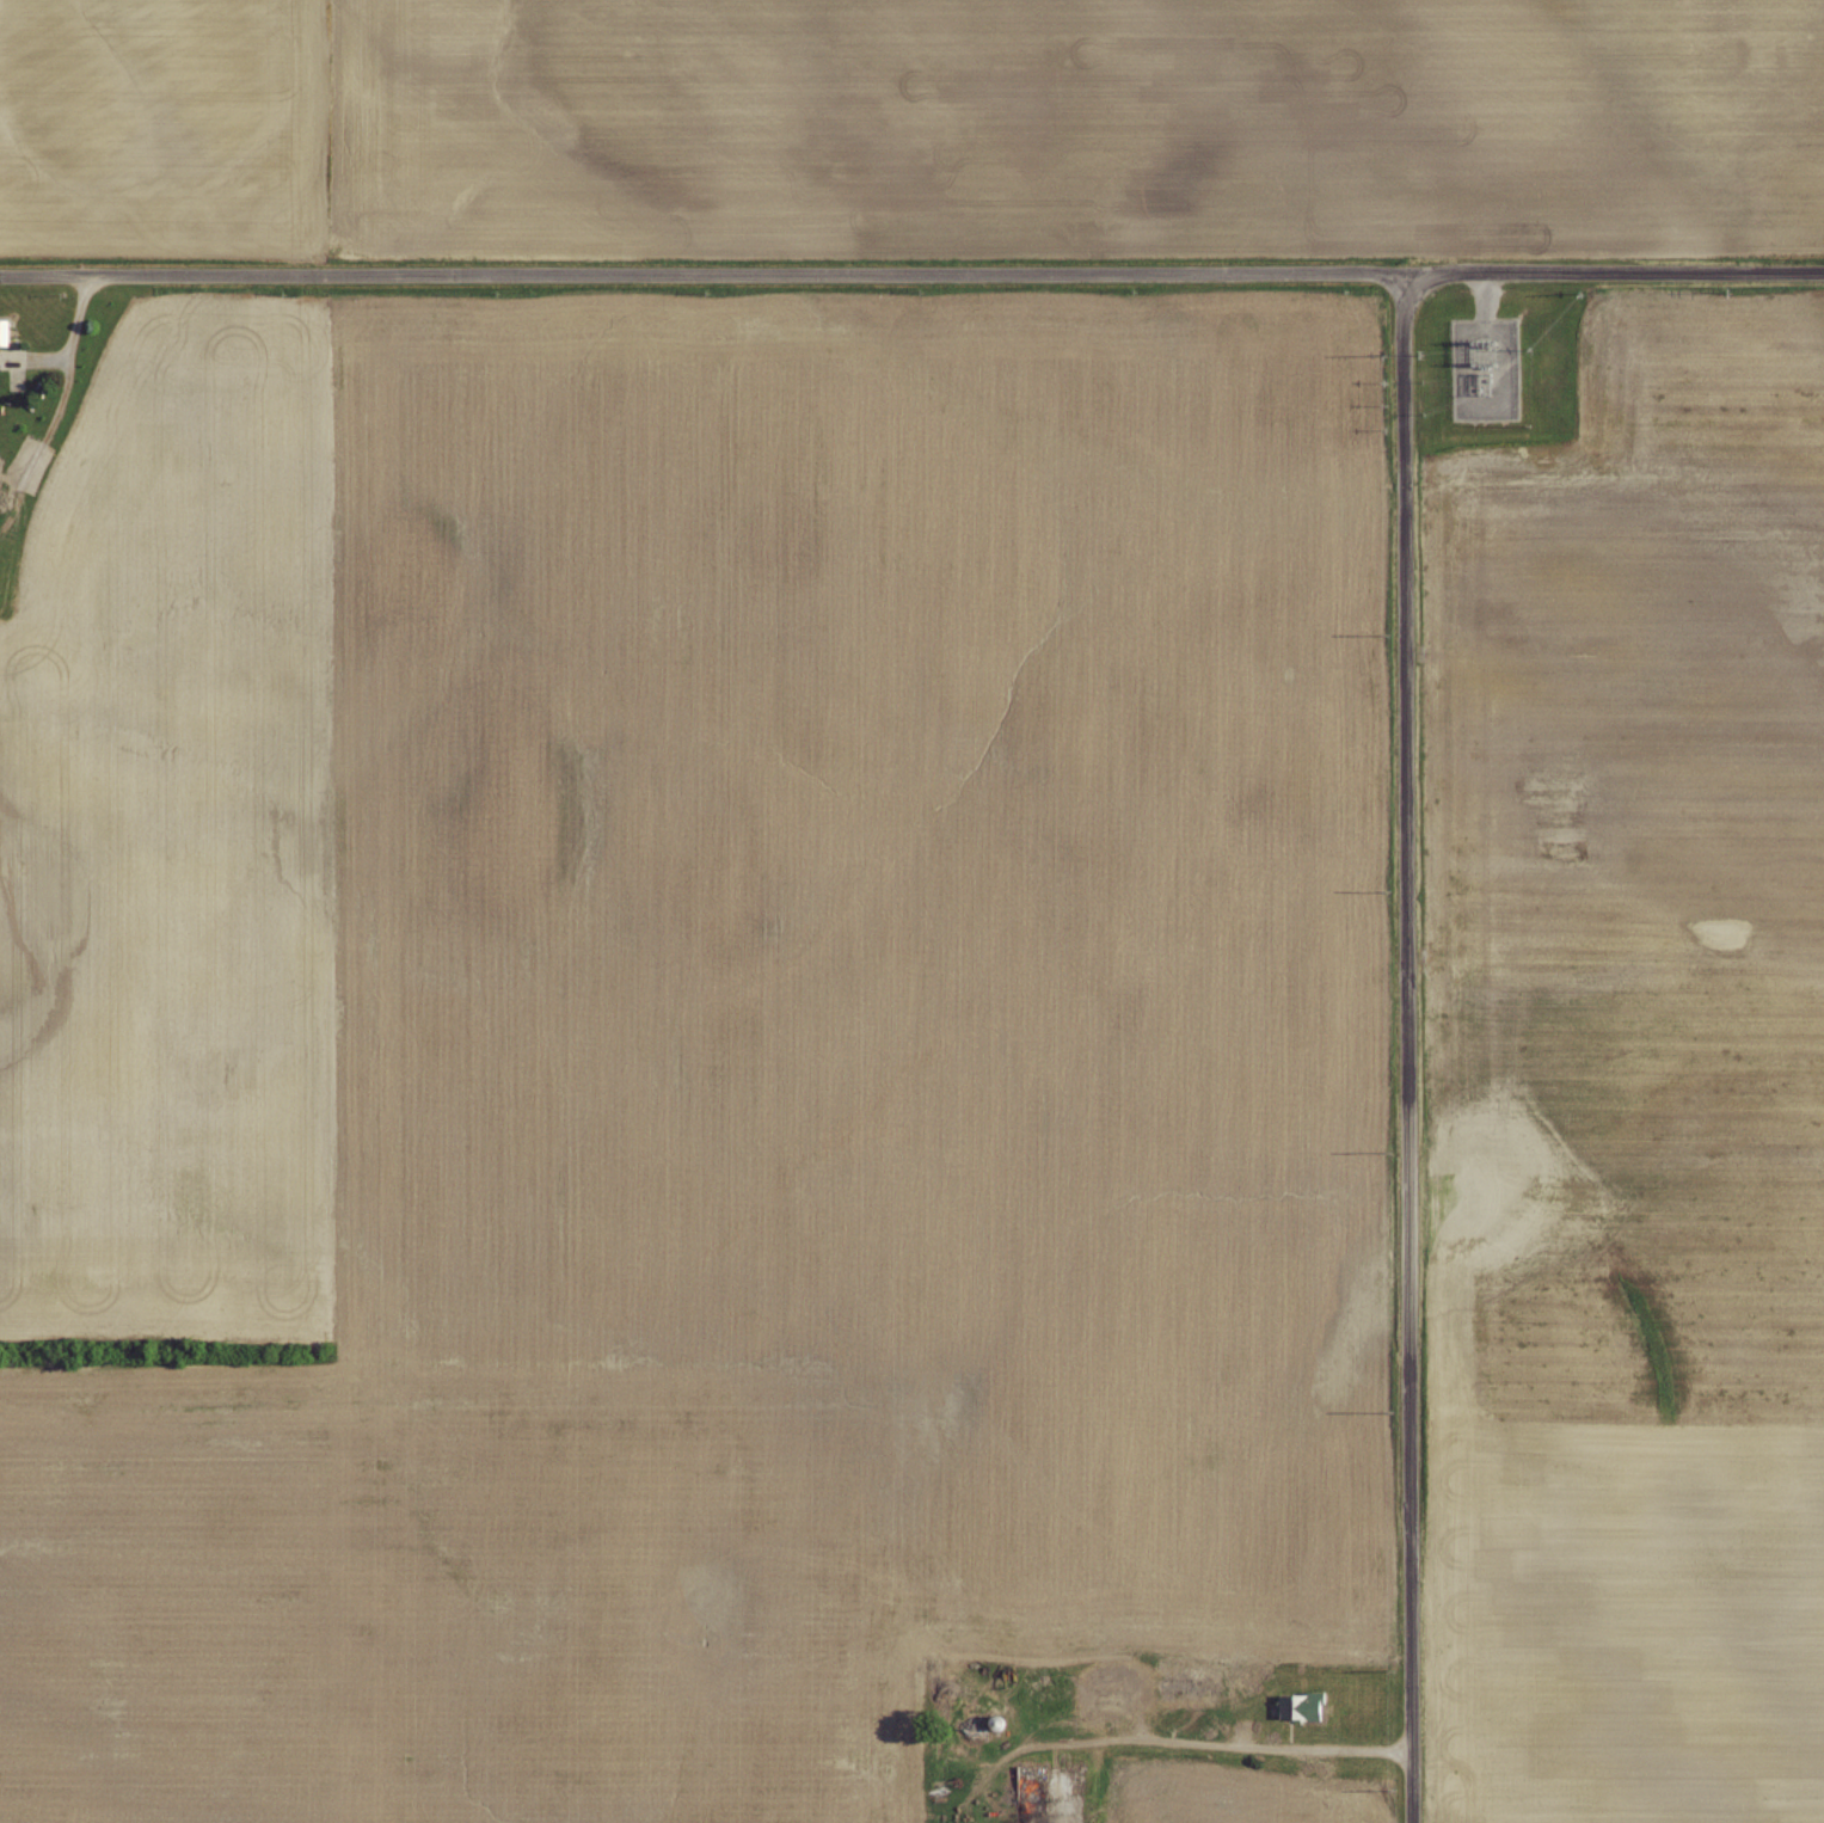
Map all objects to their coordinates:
crop: (1075, 123)
road: (1614, 274)
road: (701, 277)
road: (1486, 296)
power substation: (1486, 369)
crop: (176, 845)
road: (1408, 1048)
crop: (776, 1085)
crop: (1633, 1097)
road: (1140, 1719)
road: (1211, 1745)
crop: (1233, 1809)

